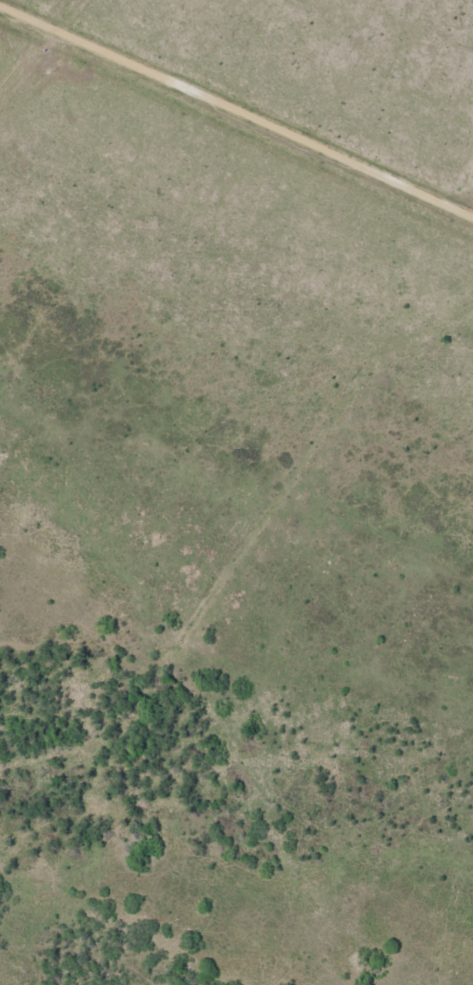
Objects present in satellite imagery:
road: (236, 117)

